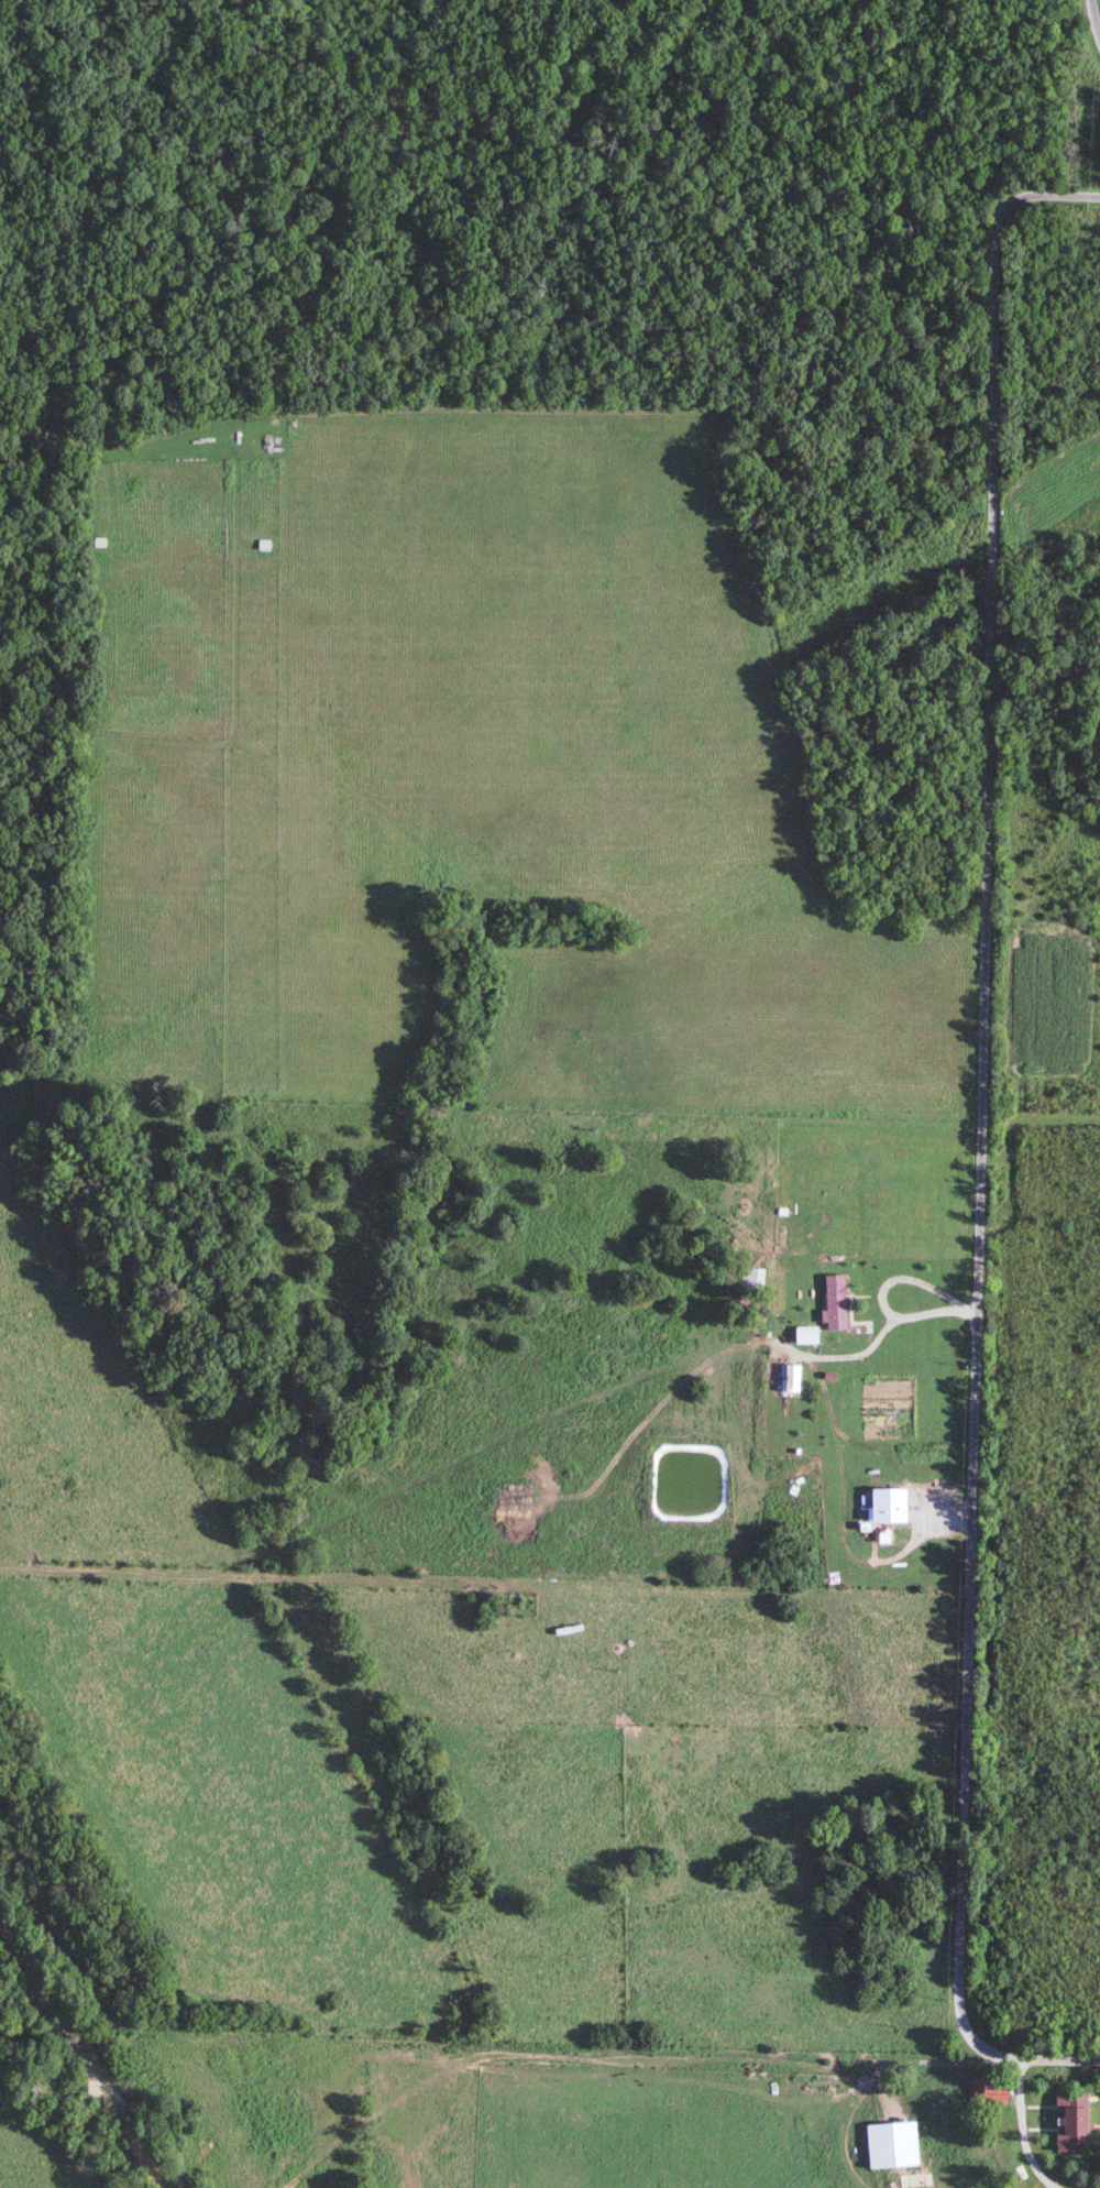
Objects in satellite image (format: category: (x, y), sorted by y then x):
road: (1096, 15)
road: (979, 1139)
road: (882, 1277)
building: (754, 1278)
building: (838, 1301)
building: (810, 1334)
building: (488, 1615)
building: (998, 2085)
building: (892, 2143)
building: (1089, 2152)

